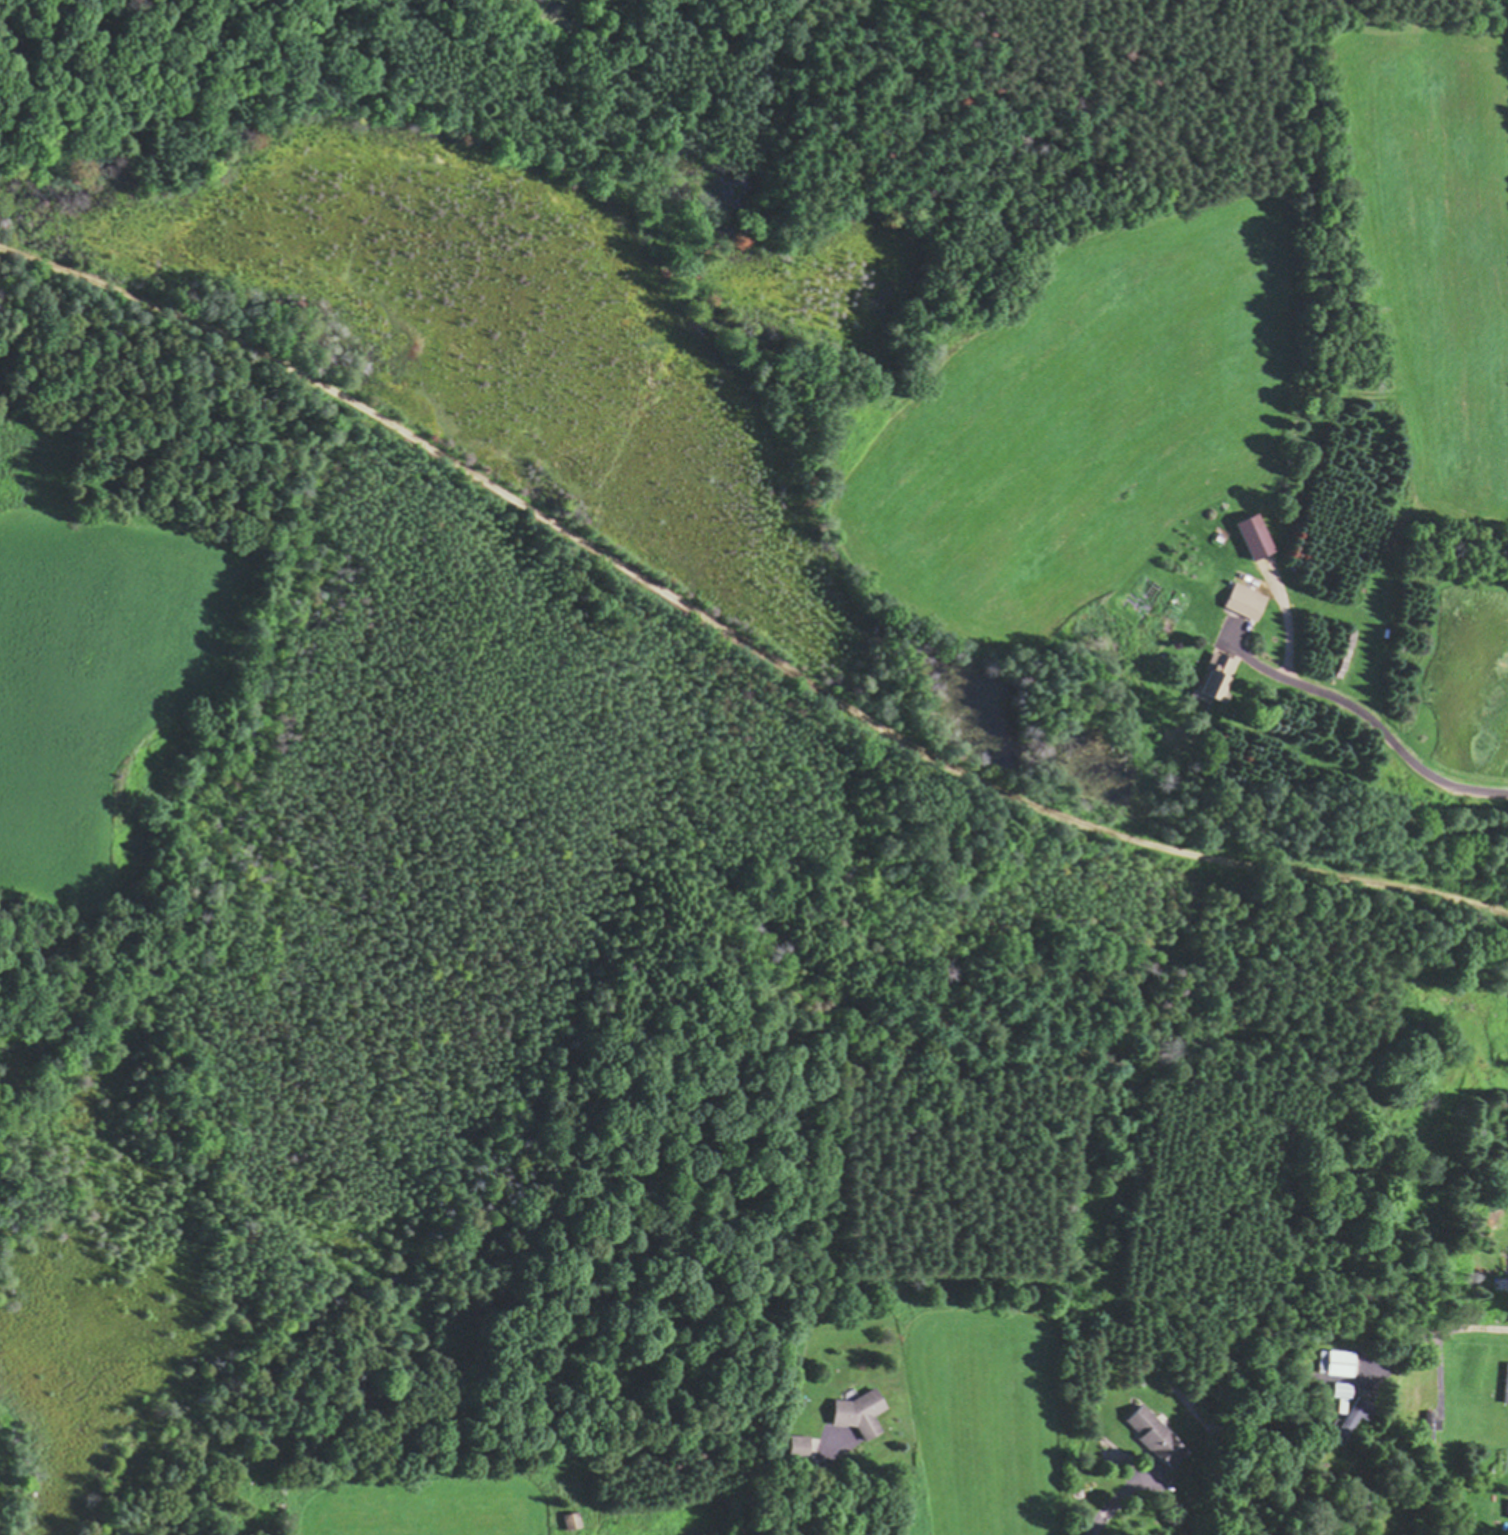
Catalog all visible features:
road: (402, 430)
building: (1245, 603)
building: (1219, 675)
road: (1374, 728)
road: (1125, 840)
road: (1479, 1329)
road: (1408, 1345)
building: (1333, 1365)
building: (1506, 1388)
building: (1341, 1392)
building: (862, 1415)
building: (1354, 1420)
building: (1156, 1437)
road: (814, 1495)
road: (1106, 1507)
building: (573, 1523)

